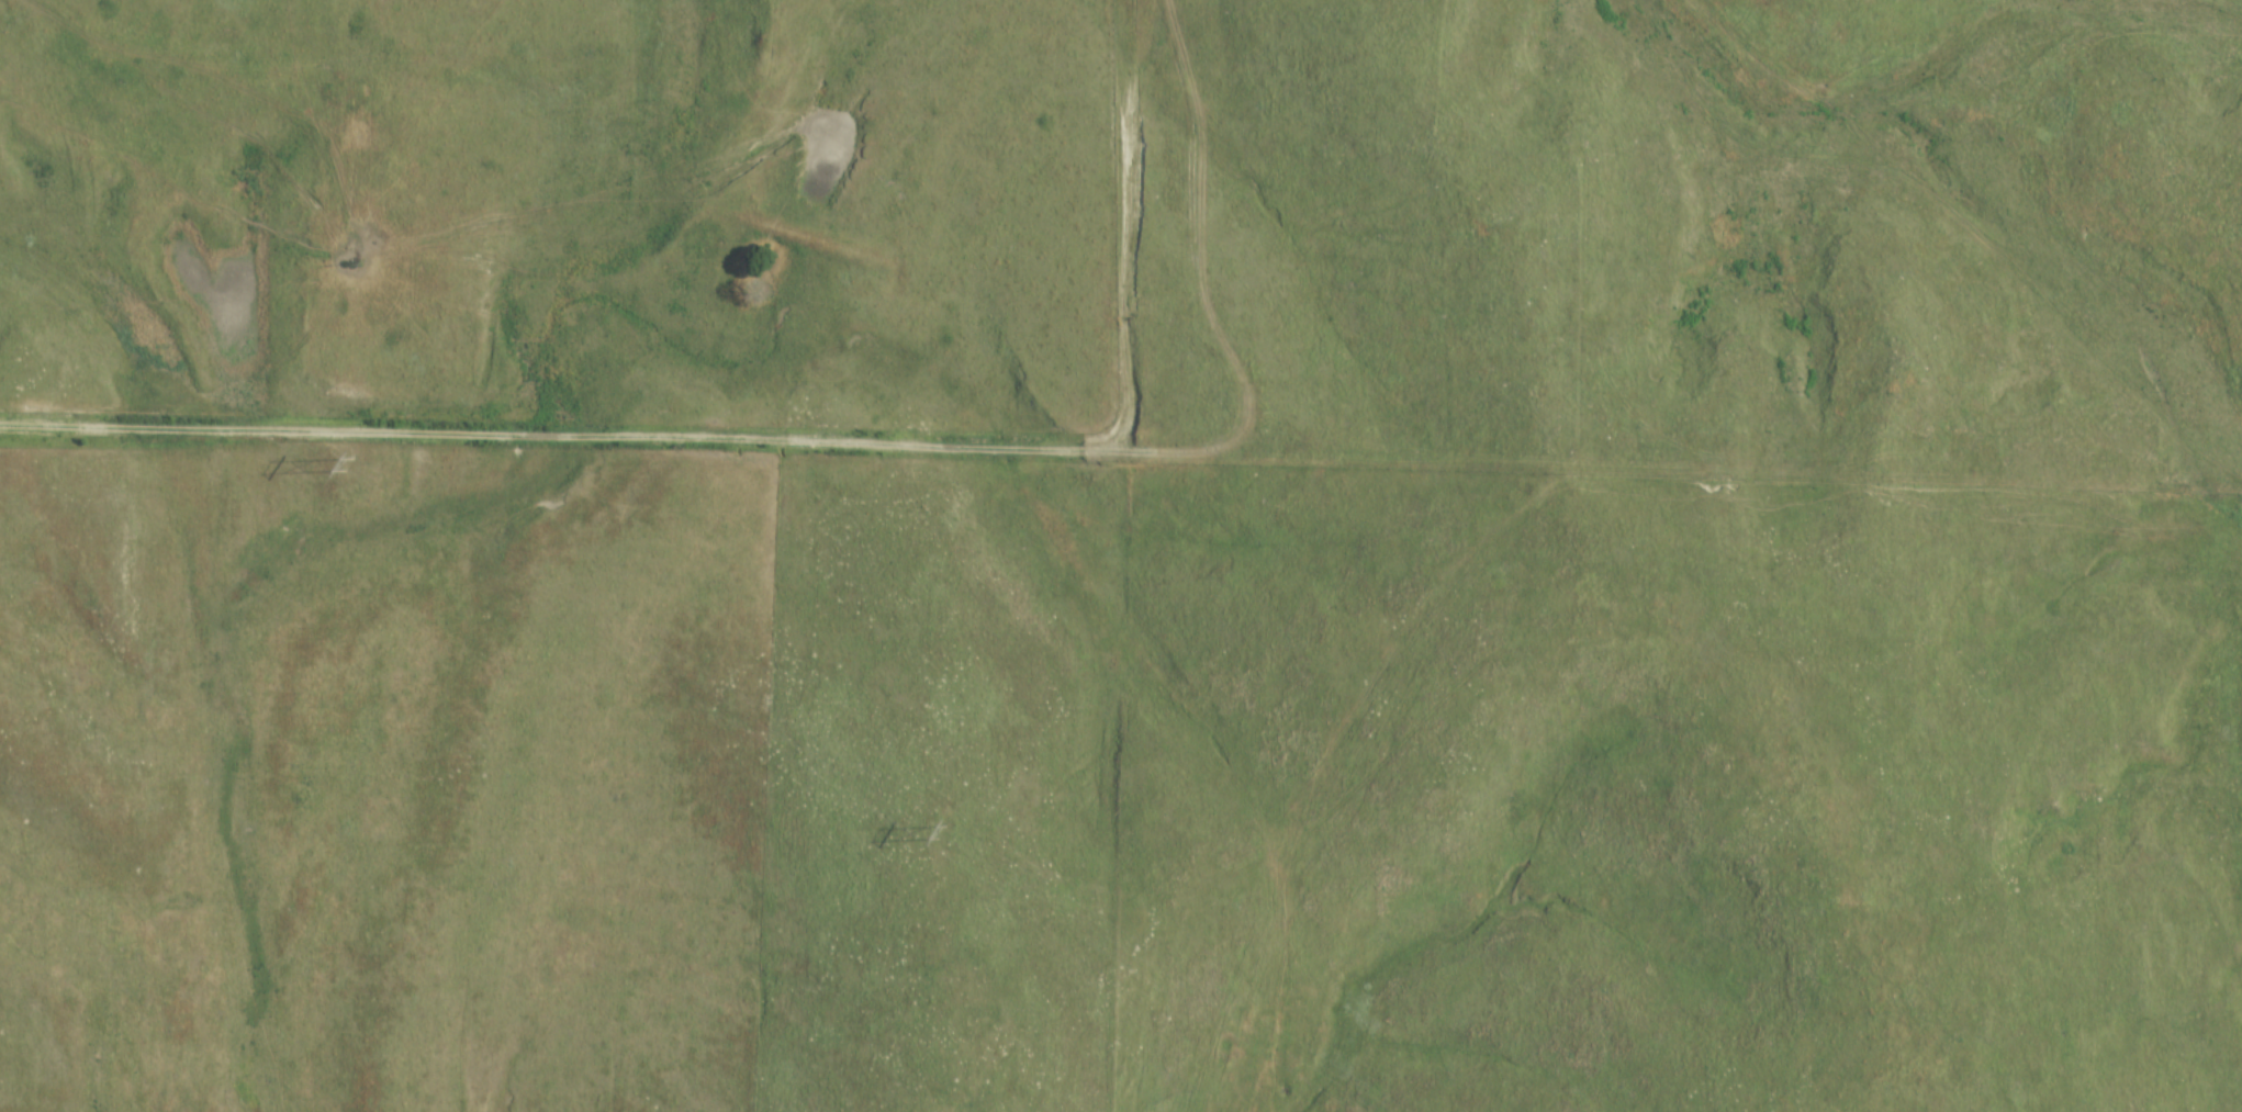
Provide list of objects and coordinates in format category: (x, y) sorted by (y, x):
road: (1129, 238)
road: (543, 435)
power tower: (348, 464)
power tower: (939, 831)

